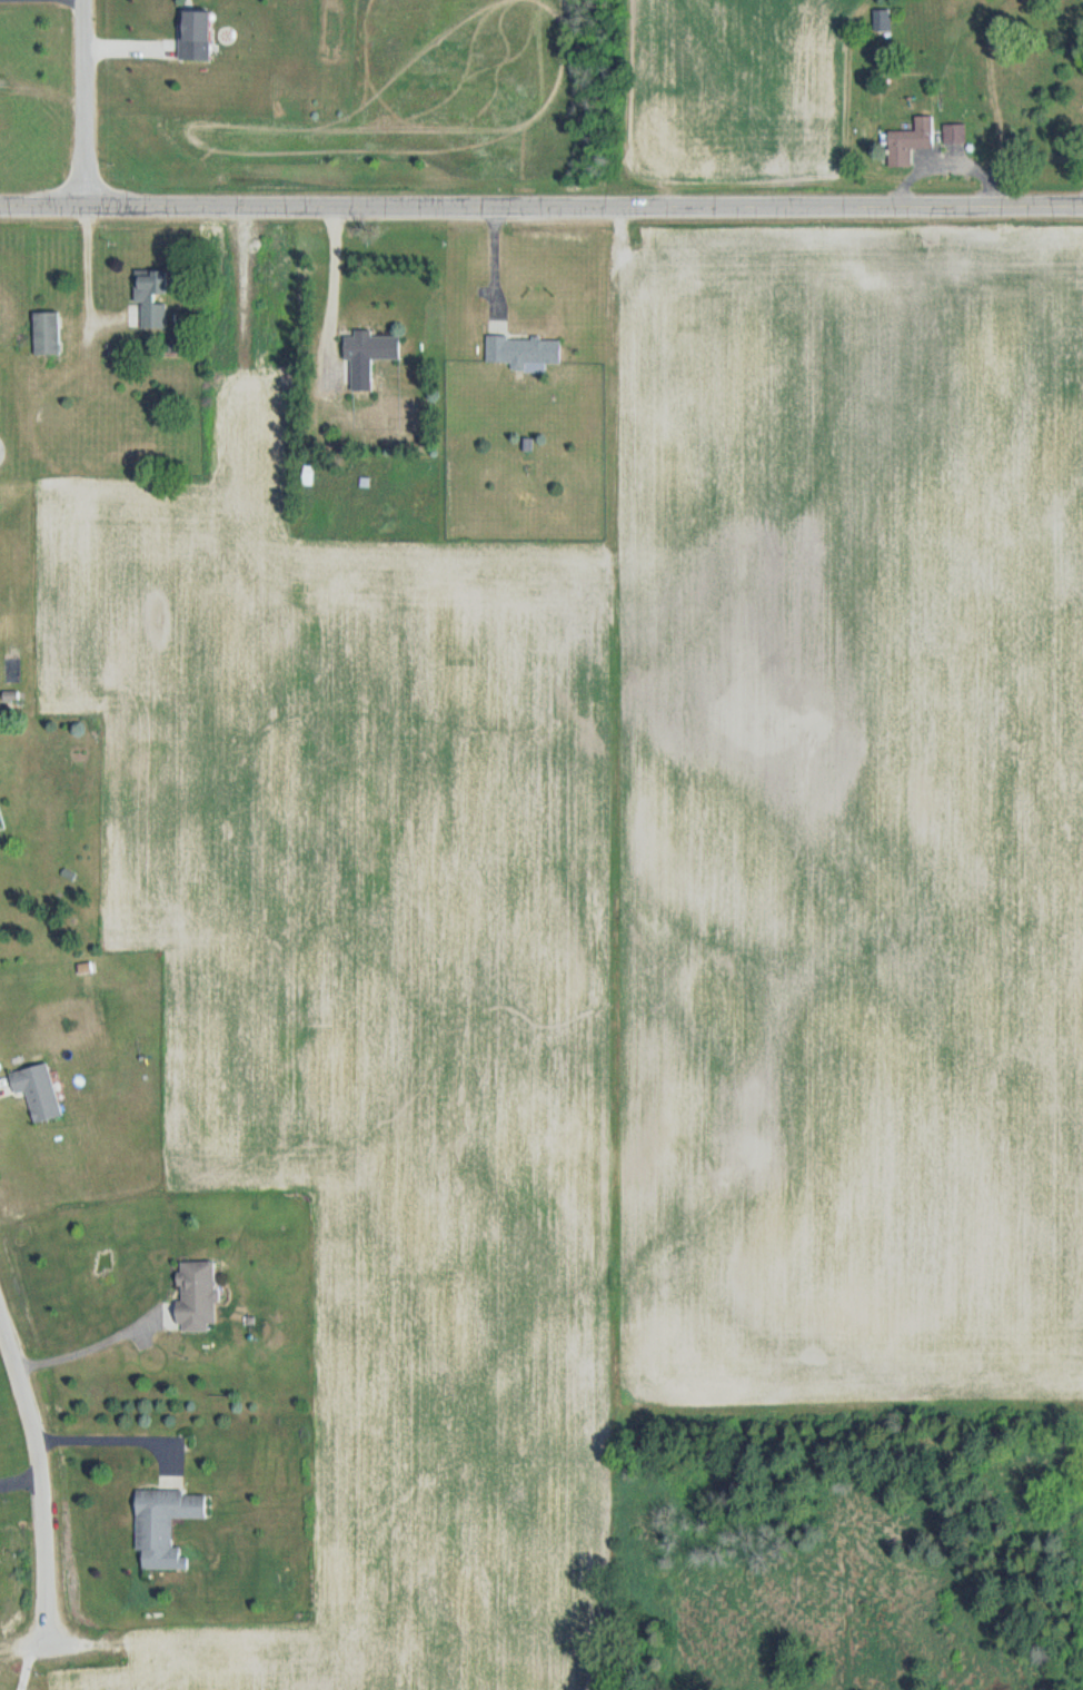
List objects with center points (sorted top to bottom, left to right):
building: (883, 20)
building: (198, 36)
crop: (713, 95)
road: (83, 102)
building: (955, 135)
building: (911, 142)
road: (541, 206)
road: (497, 266)
road: (90, 273)
road: (335, 287)
building: (152, 299)
building: (49, 335)
building: (525, 352)
building: (369, 356)
building: (40, 1091)
building: (198, 1297)
road: (90, 1347)
road: (118, 1436)
road: (37, 1471)
road: (18, 1480)
building: (167, 1528)
road: (31, 1653)

